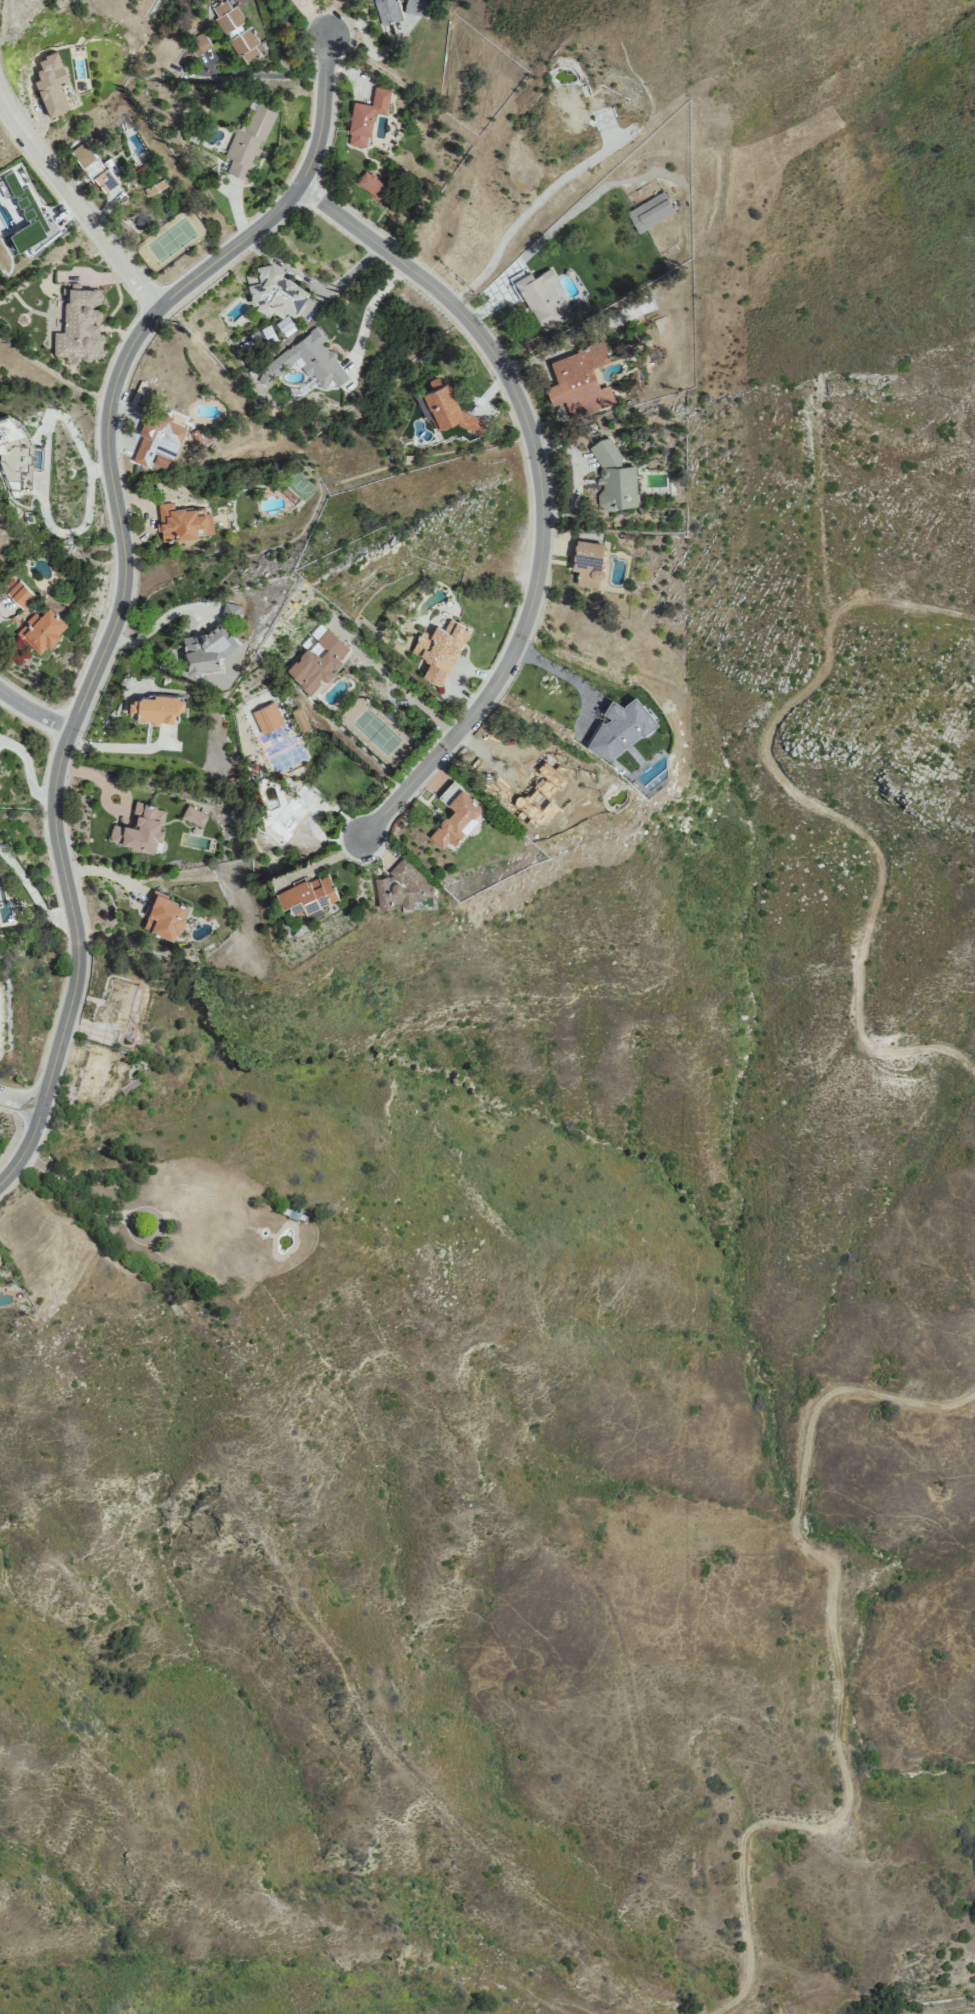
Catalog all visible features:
building: (416, 7)
building: (387, 11)
building: (236, 30)
building: (198, 44)
road: (265, 76)
building: (54, 84)
building: (579, 108)
building: (366, 117)
building: (248, 143)
building: (95, 167)
building: (150, 180)
building: (370, 185)
road: (76, 201)
building: (649, 212)
road: (525, 215)
building: (275, 293)
building: (542, 300)
road: (371, 309)
building: (79, 325)
building: (254, 340)
building: (306, 362)
building: (579, 381)
building: (157, 439)
building: (17, 455)
road: (45, 469)
building: (613, 477)
road: (542, 490)
building: (182, 521)
building: (587, 561)
road: (122, 579)
building: (20, 593)
building: (230, 610)
building: (0, 618)
road: (159, 620)
building: (41, 629)
building: (440, 647)
building: (204, 649)
building: (317, 661)
road: (570, 678)
road: (393, 680)
building: (155, 706)
road: (33, 712)
building: (267, 717)
road: (120, 748)
road: (28, 769)
building: (555, 796)
road: (826, 808)
building: (292, 812)
building: (193, 815)
building: (455, 815)
building: (140, 829)
building: (401, 885)
road: (30, 892)
building: (309, 892)
building: (164, 916)
building: (125, 1004)
building: (2, 1011)
building: (94, 1074)
road: (20, 1101)
road: (77, 1198)
building: (201, 1214)
building: (0, 1266)
road: (839, 1668)
road: (926, 2004)

